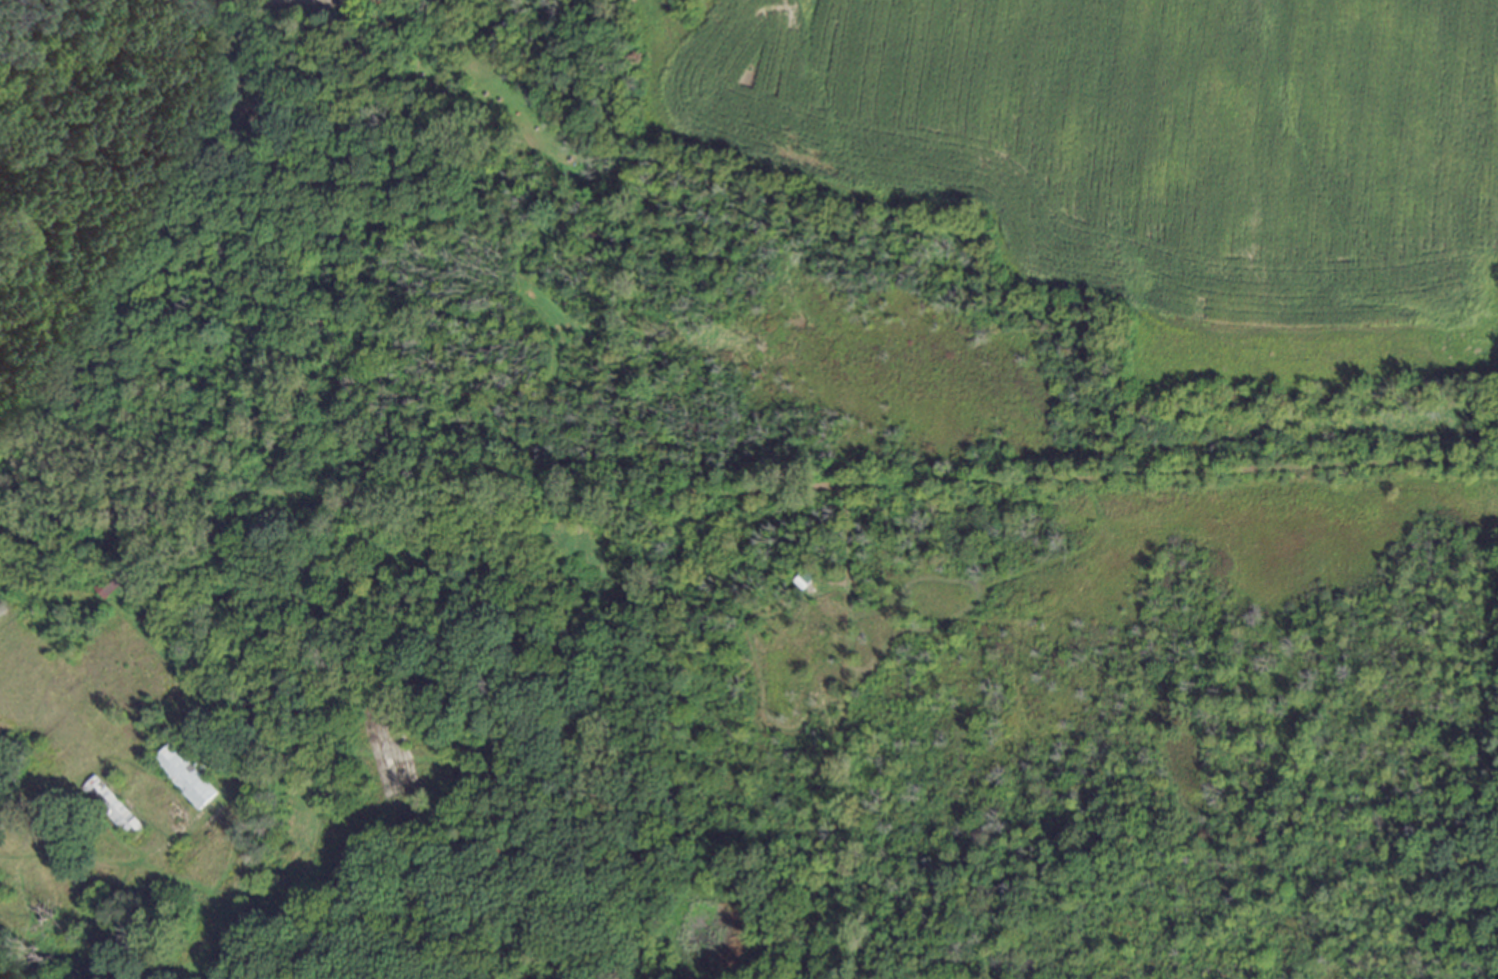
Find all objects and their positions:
road: (420, 501)
building: (110, 577)
building: (798, 579)
building: (75, 613)
building: (181, 772)
building: (109, 806)

